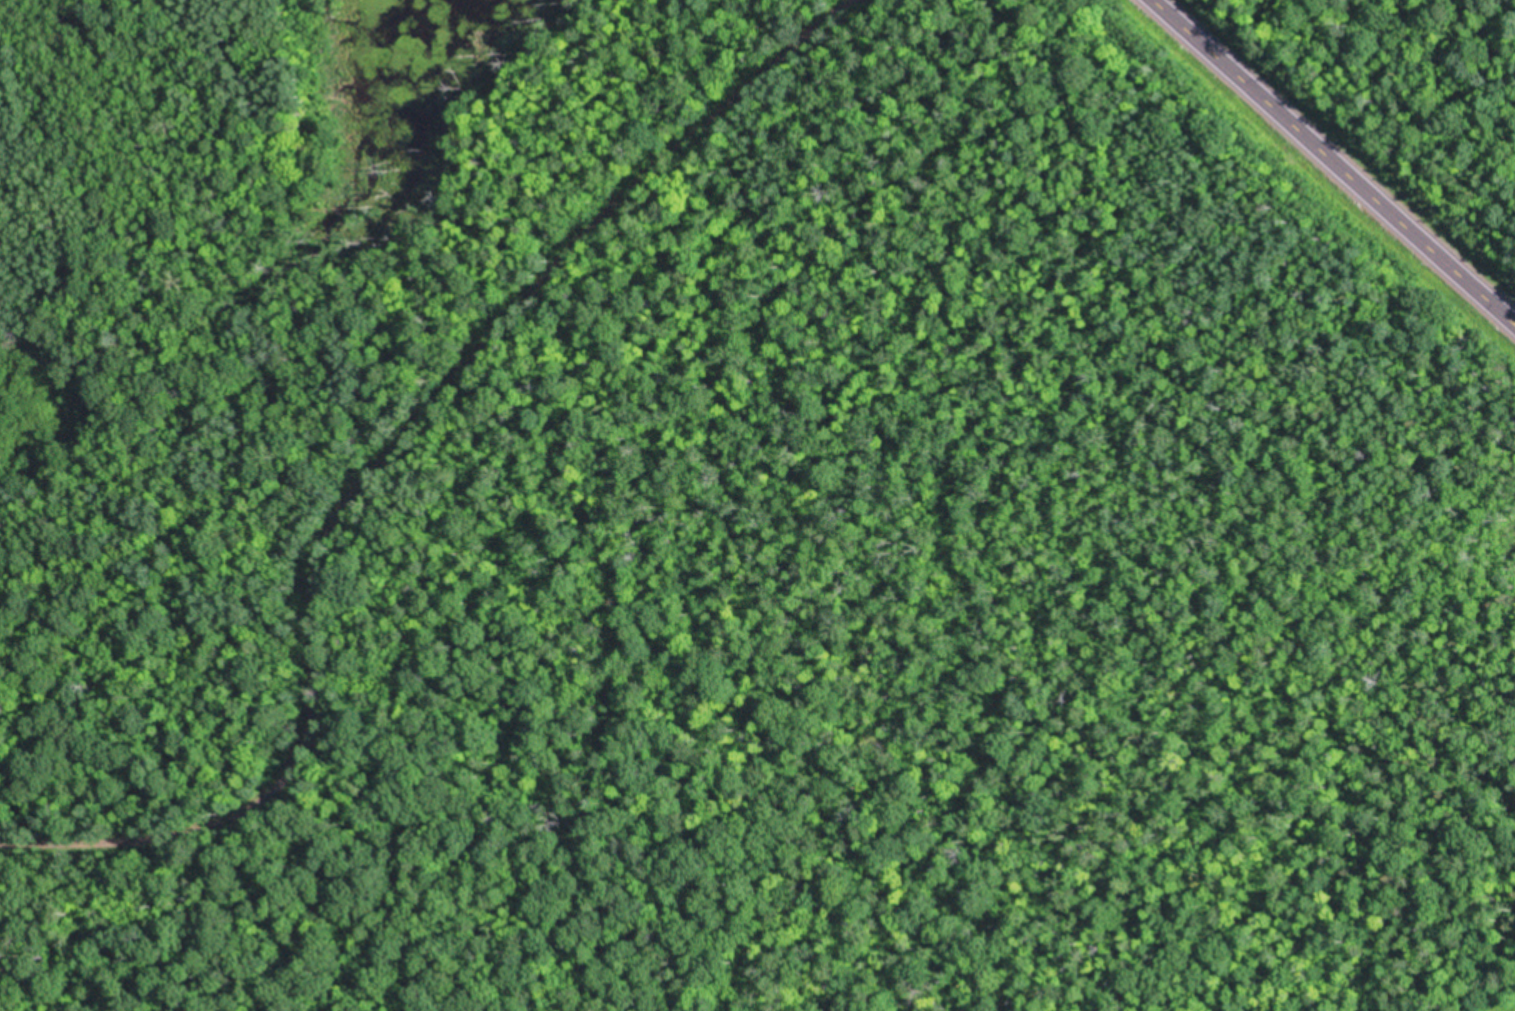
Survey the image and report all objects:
road: (1334, 159)

